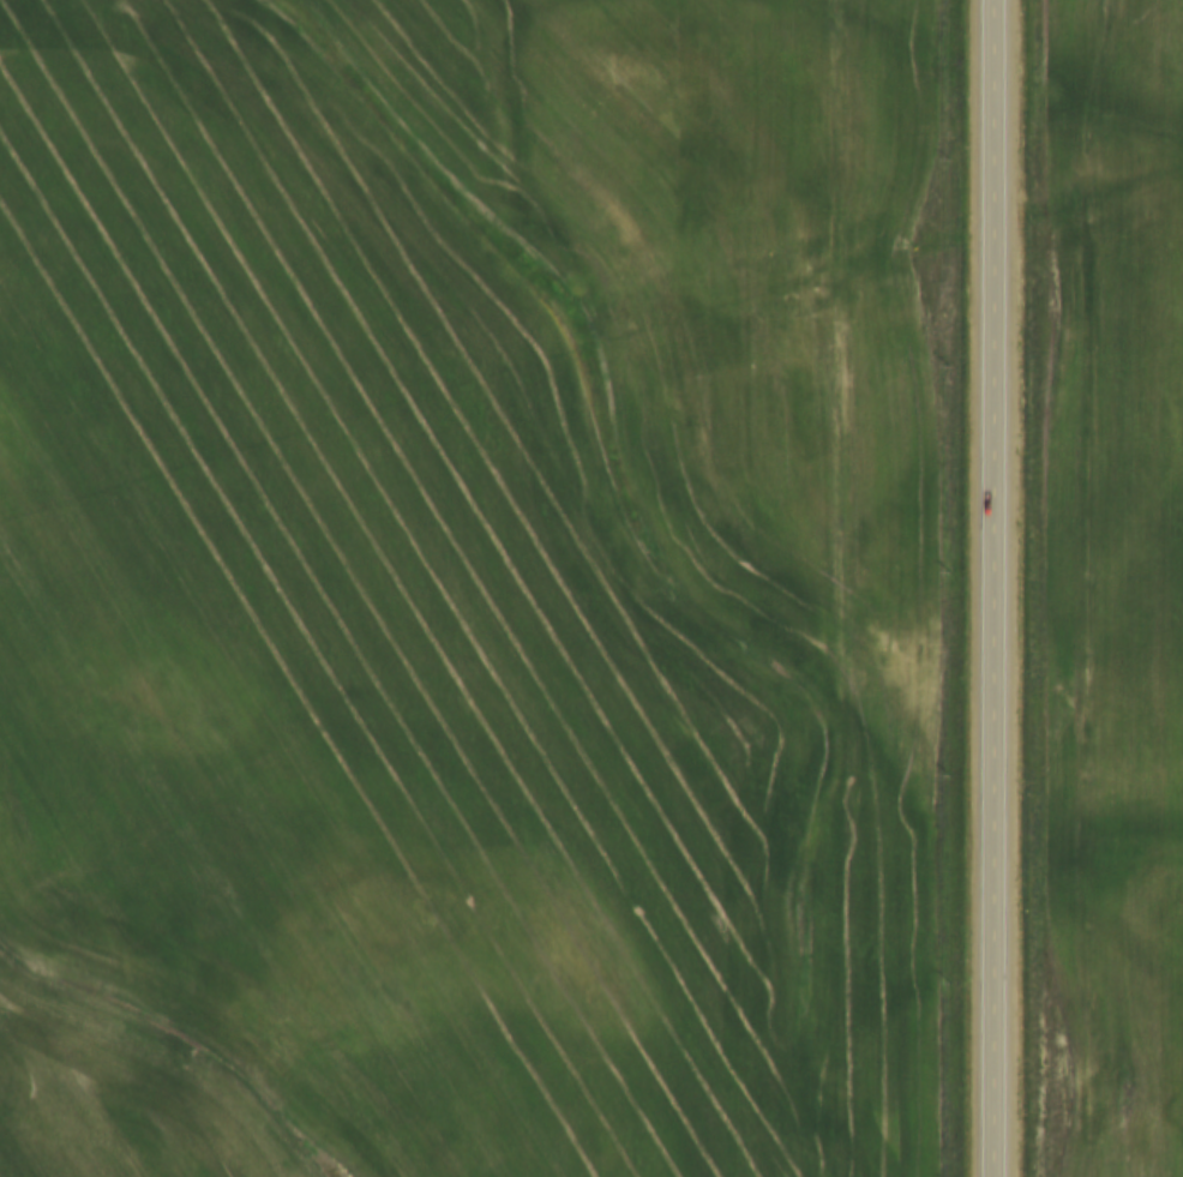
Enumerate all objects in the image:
road: (997, 588)

